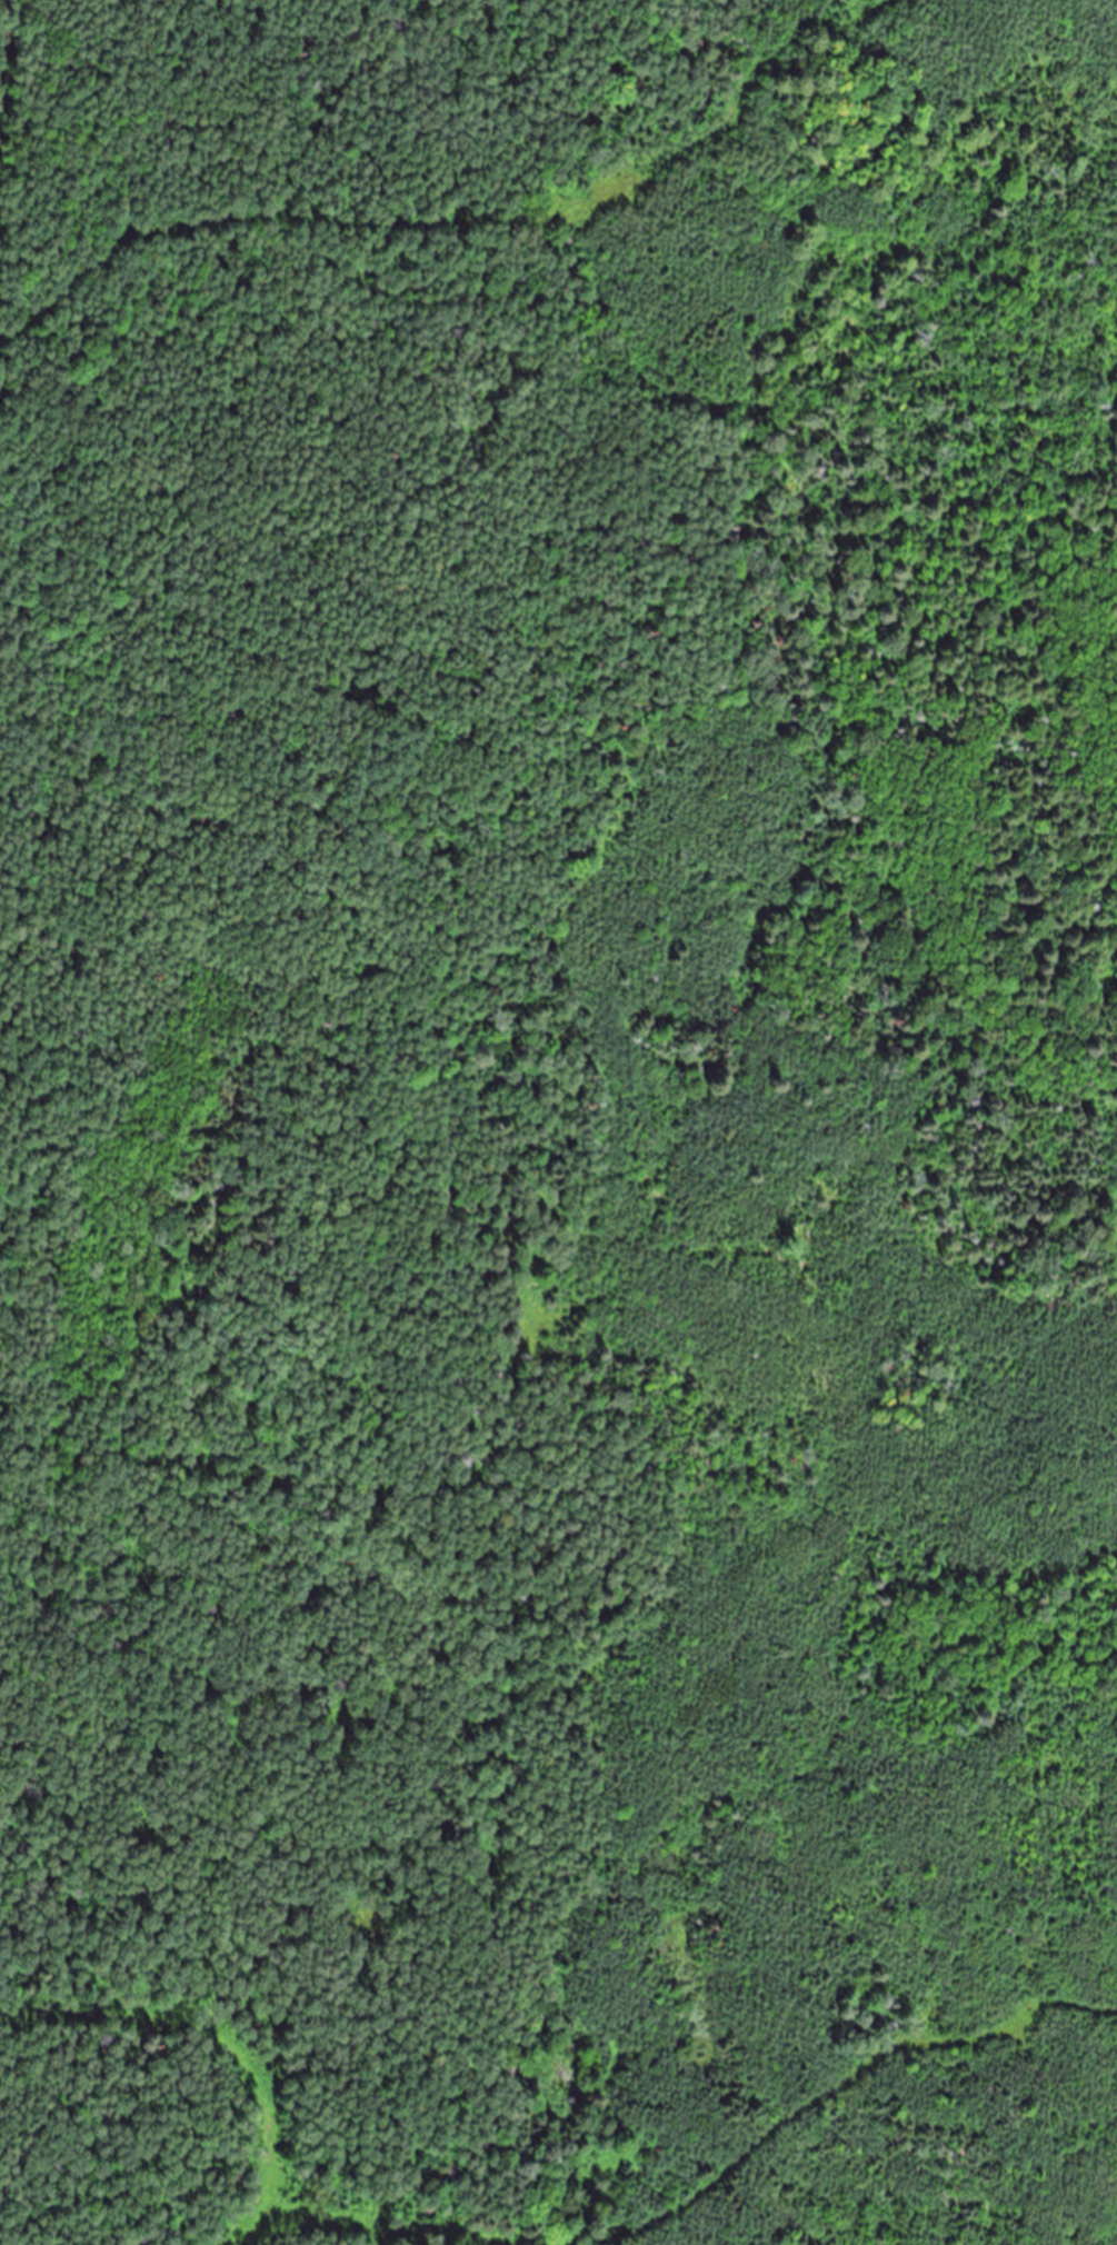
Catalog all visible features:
road: (2, 37)
road: (256, 230)
road: (222, 2046)
road: (835, 2081)
road: (385, 2223)

